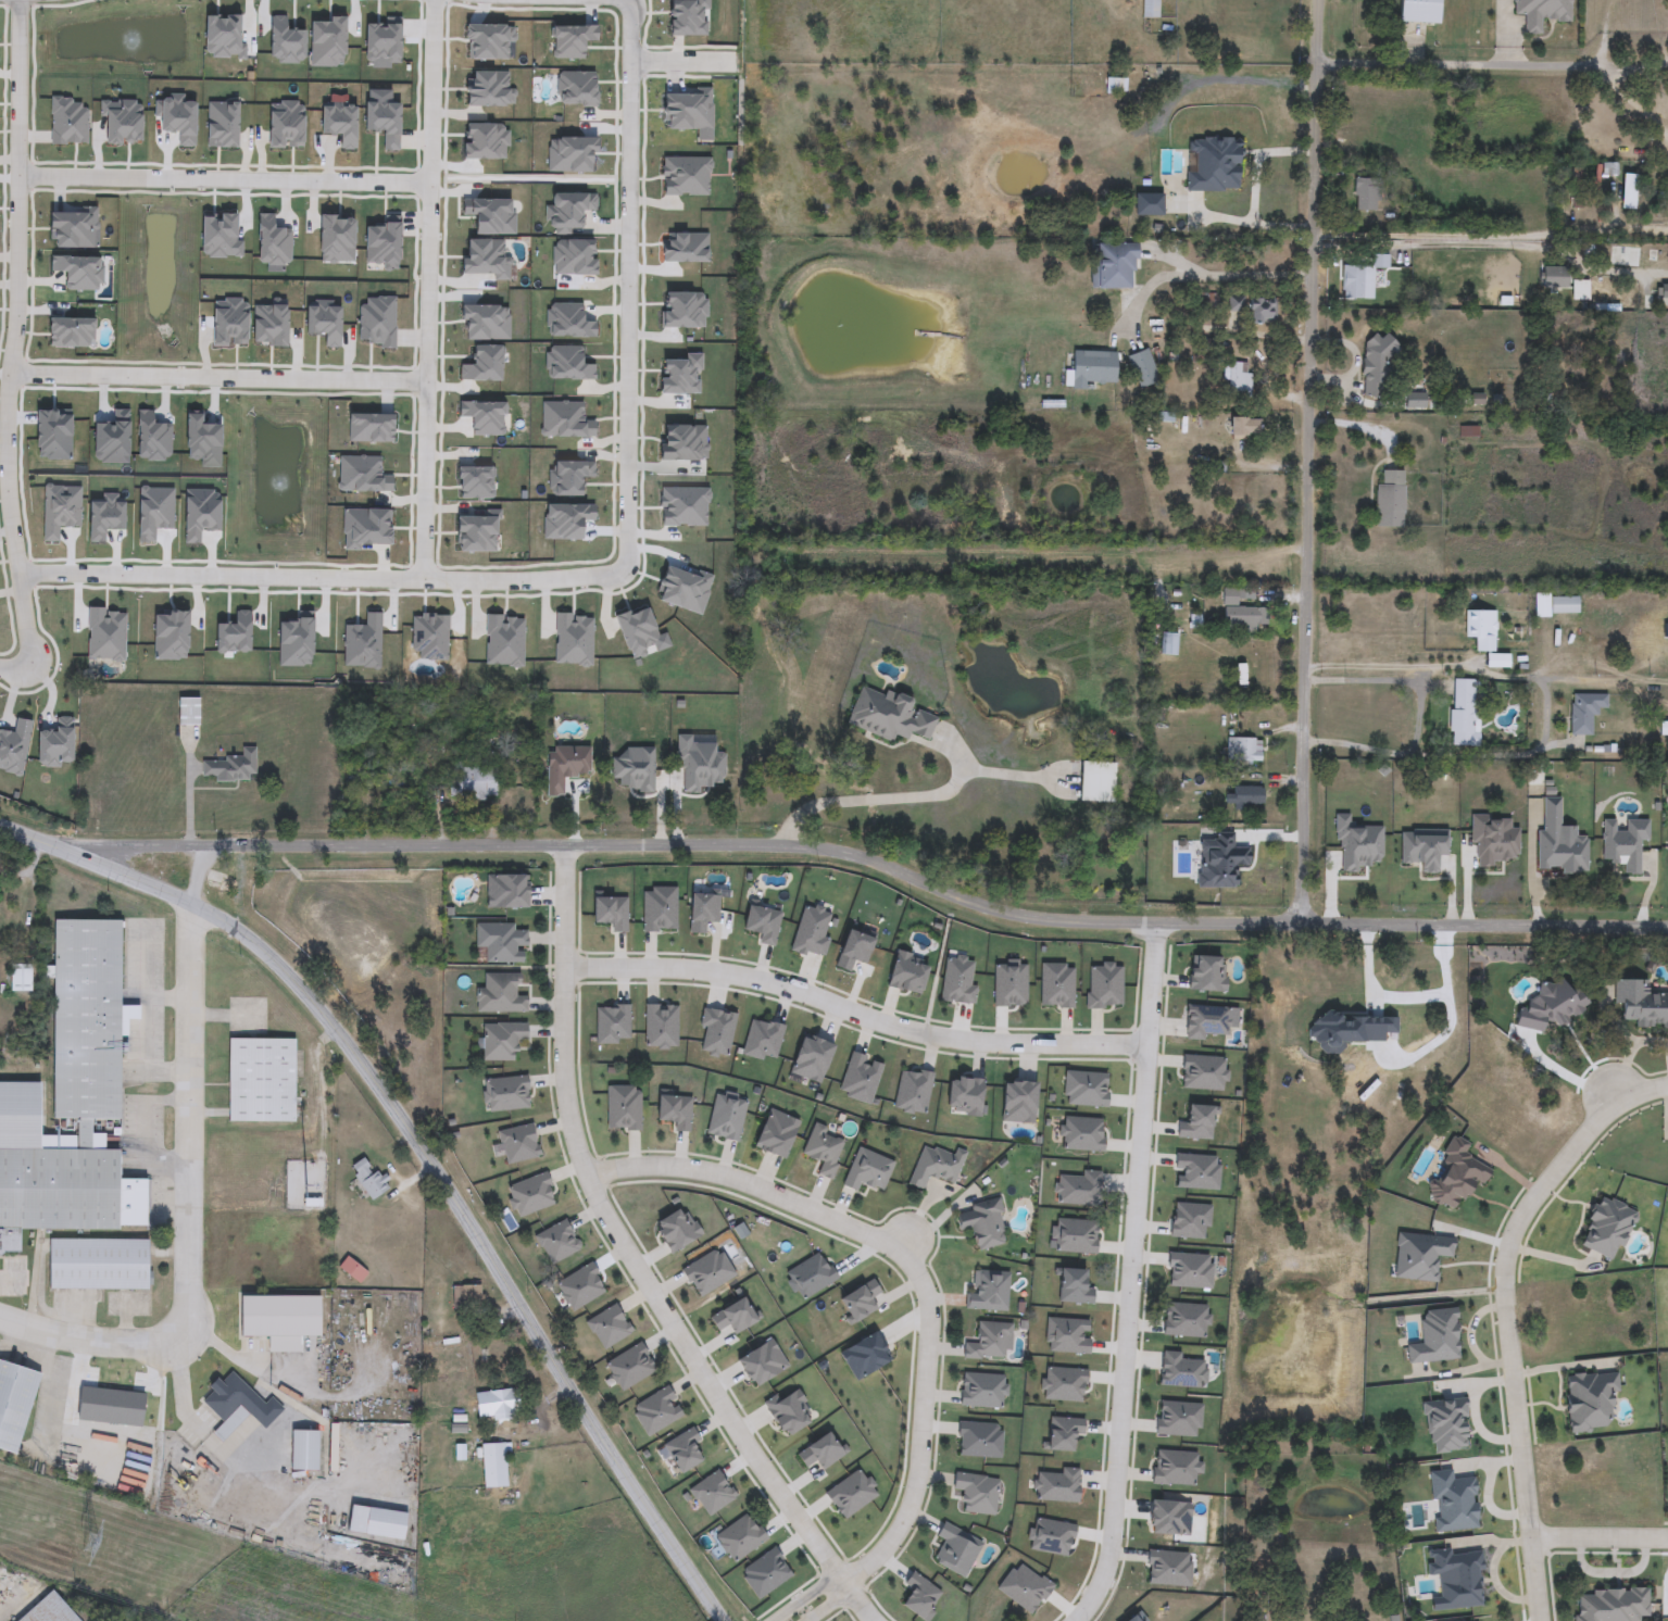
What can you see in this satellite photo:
building: (1151, 9)
building: (1419, 11)
building: (1542, 13)
road: (1604, 34)
road: (683, 60)
road: (1456, 63)
road: (1631, 66)
road: (1631, 102)
building: (1215, 164)
building: (1169, 171)
road: (224, 179)
road: (1253, 190)
building: (1234, 192)
building: (1367, 194)
building: (1576, 198)
road: (1492, 238)
building: (1114, 266)
road: (1204, 275)
building: (1554, 277)
road: (630, 281)
building: (1356, 282)
road: (17, 288)
road: (427, 290)
building: (1665, 292)
building: (1615, 298)
building: (1262, 310)
building: (1374, 364)
building: (1093, 368)
building: (1143, 369)
road: (217, 378)
building: (1239, 380)
building: (1244, 427)
road: (1310, 463)
building: (1390, 499)
road: (323, 579)
building: (1556, 605)
building: (1241, 615)
road: (27, 623)
building: (1481, 629)
building: (1168, 644)
road: (9, 667)
road: (1523, 678)
building: (187, 712)
building: (1585, 713)
building: (1464, 714)
building: (889, 716)
road: (1416, 718)
building: (1664, 729)
building: (1244, 752)
building: (229, 766)
building: (1095, 782)
building: (472, 783)
road: (186, 794)
road: (910, 795)
building: (1247, 796)
road: (869, 856)
building: (1128, 877)
building: (500, 943)
building: (500, 994)
road: (857, 1014)
road: (146, 1033)
building: (502, 1041)
building: (261, 1081)
building: (1350, 1082)
road: (1643, 1095)
building: (72, 1102)
building: (824, 1149)
road: (423, 1156)
building: (935, 1167)
building: (868, 1170)
building: (1457, 1176)
building: (368, 1178)
road: (192, 1212)
building: (981, 1224)
building: (1606, 1229)
road: (624, 1242)
building: (97, 1265)
road: (914, 1270)
building: (352, 1271)
road: (1132, 1277)
road: (10, 1279)
building: (988, 1292)
building: (466, 1299)
building: (279, 1321)
building: (990, 1343)
road: (1515, 1344)
road: (230, 1353)
building: (471, 1356)
road: (181, 1392)
building: (230, 1402)
building: (1590, 1402)
building: (14, 1405)
building: (494, 1405)
building: (304, 1450)
building: (496, 1467)
building: (975, 1494)
road: (1601, 1540)
power tower: (88, 1543)
building: (956, 1549)
road: (830, 1588)
road: (855, 1600)
building: (1610, 1605)
building: (49, 1610)
road: (868, 1618)

